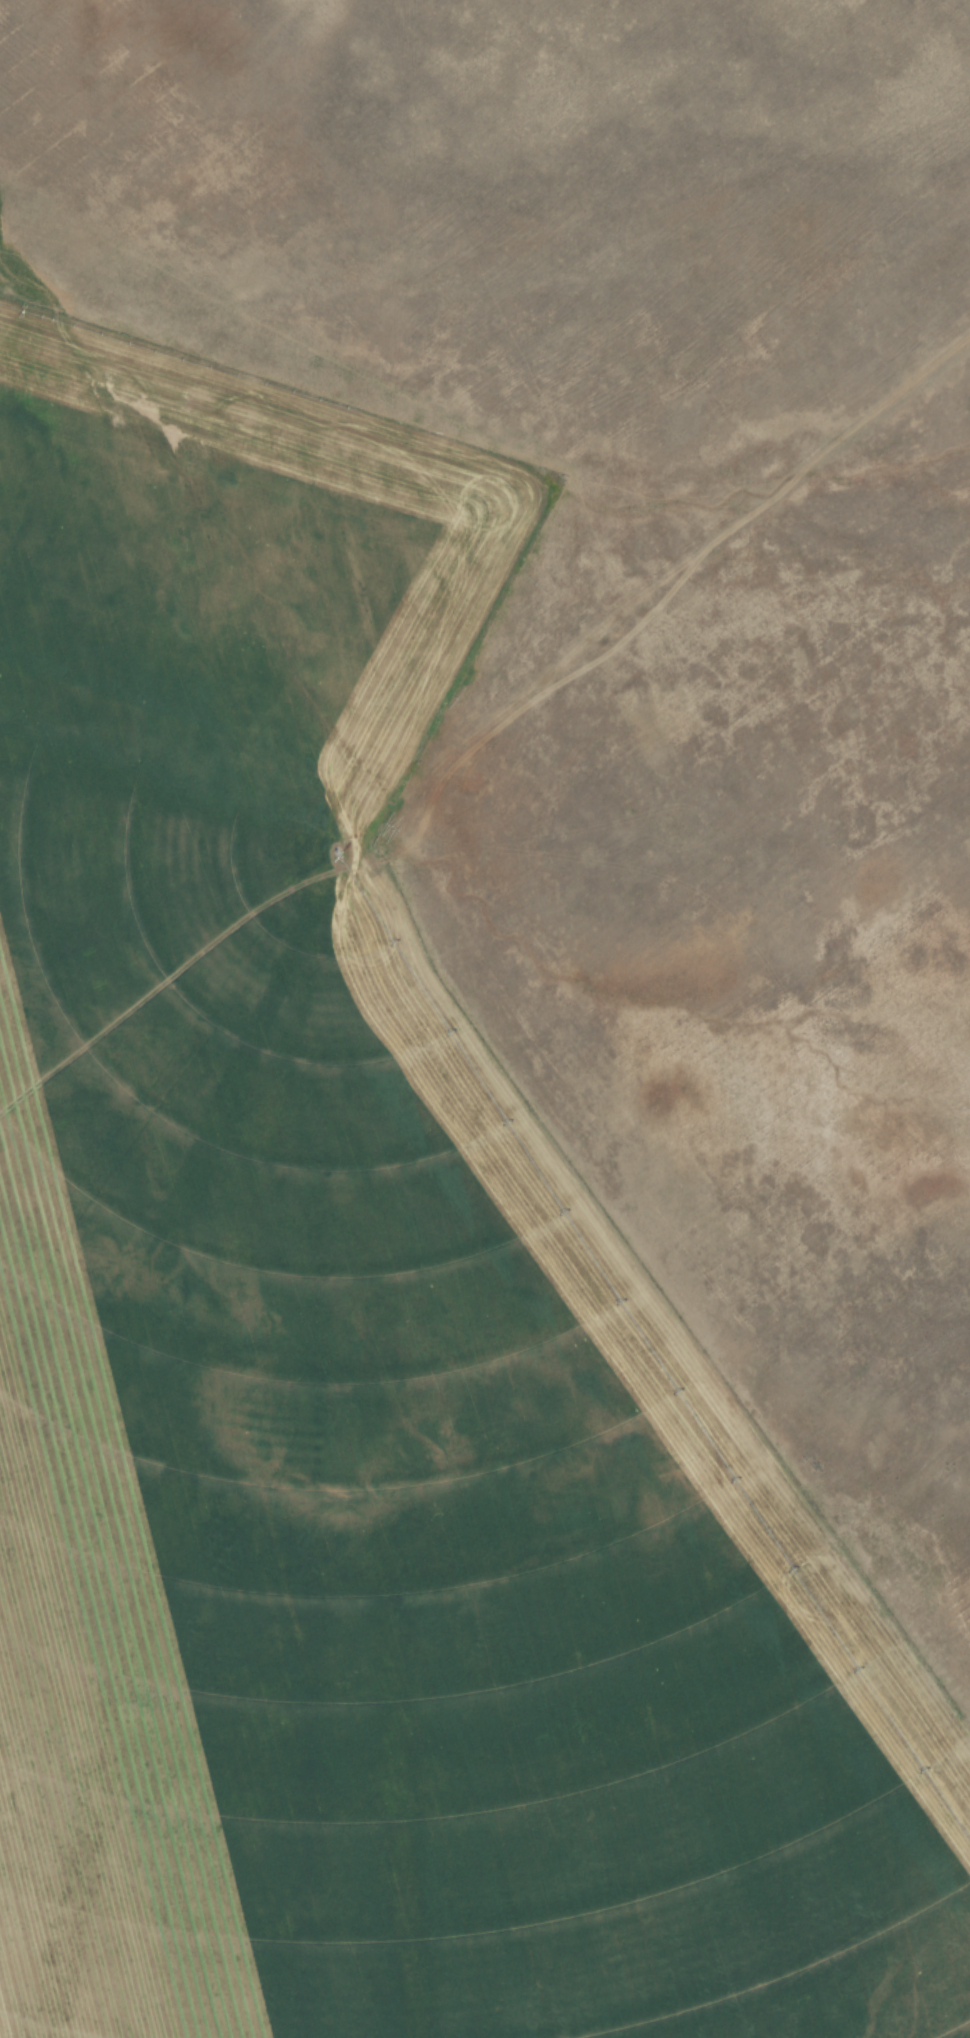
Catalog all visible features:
road: (483, 246)
road: (7, 391)
crop: (363, 1354)

